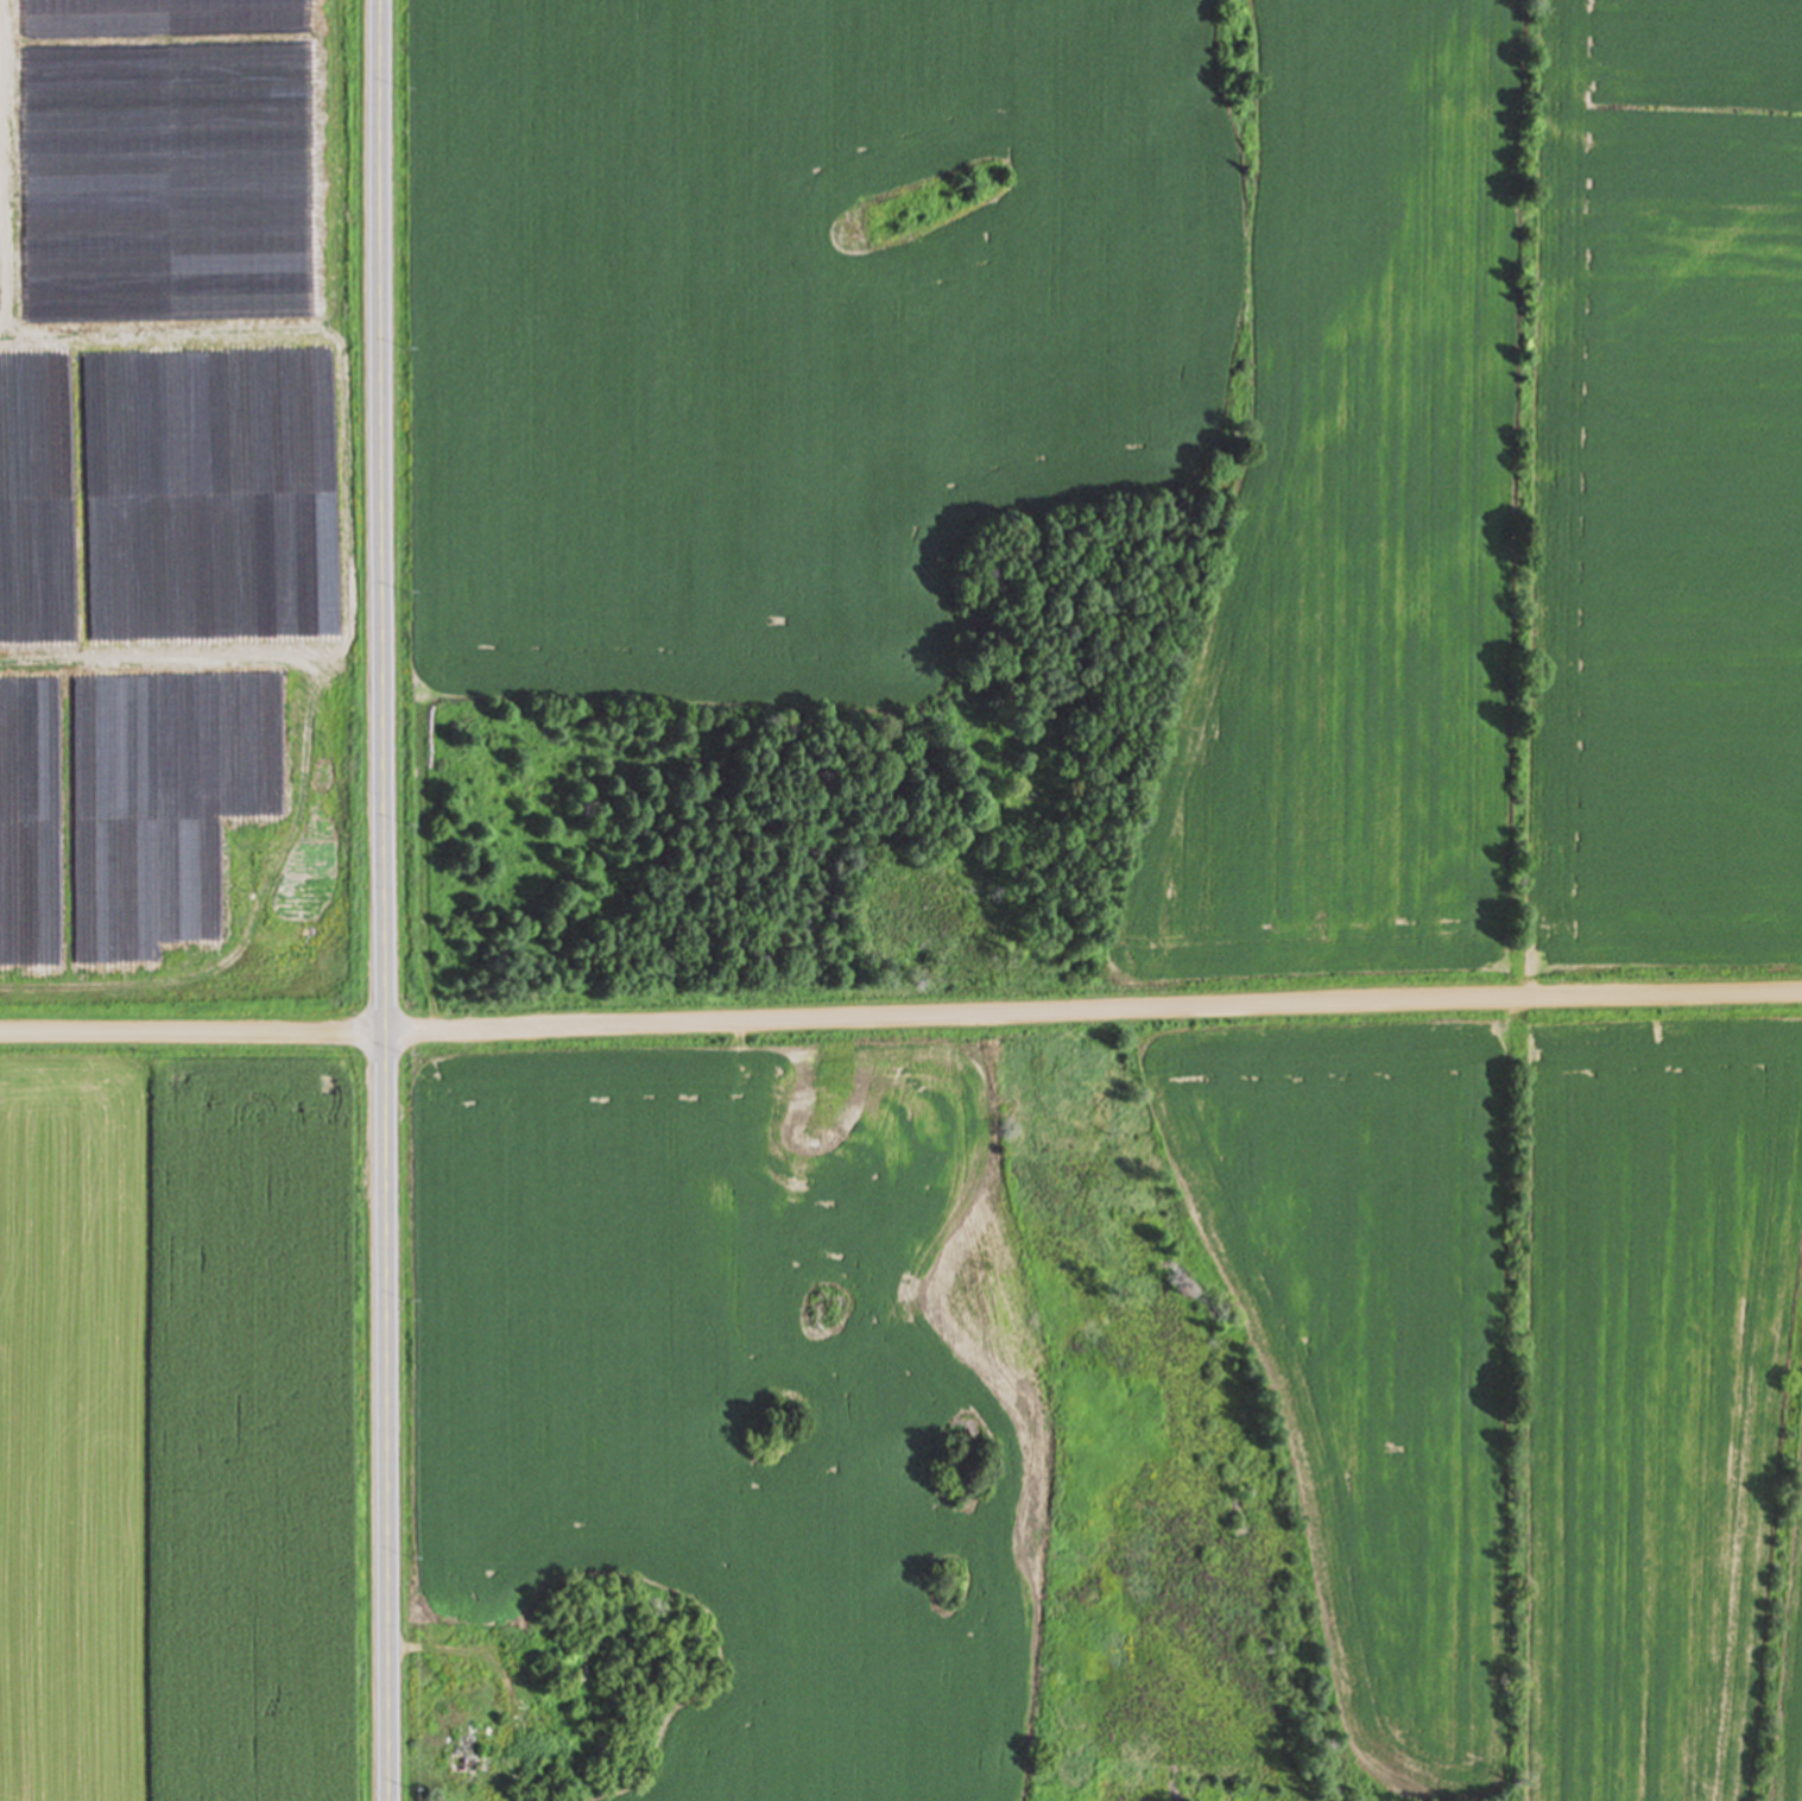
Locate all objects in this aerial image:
road: (386, 899)
road: (900, 1022)
building: (460, 1757)

